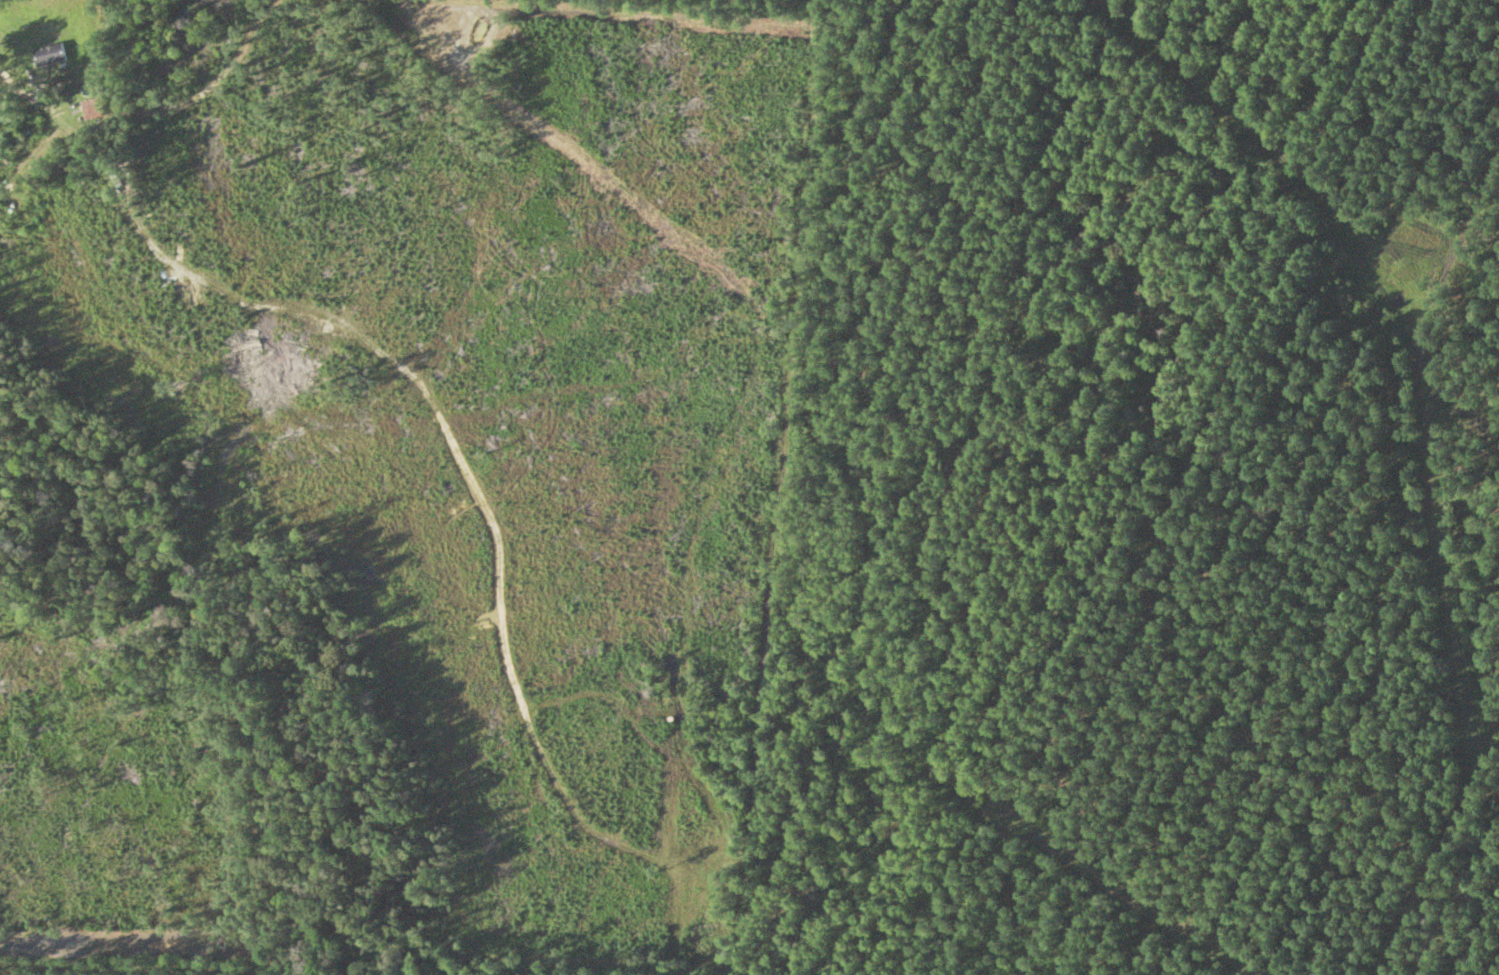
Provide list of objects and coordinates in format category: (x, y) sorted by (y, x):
building: (50, 55)
building: (93, 108)

